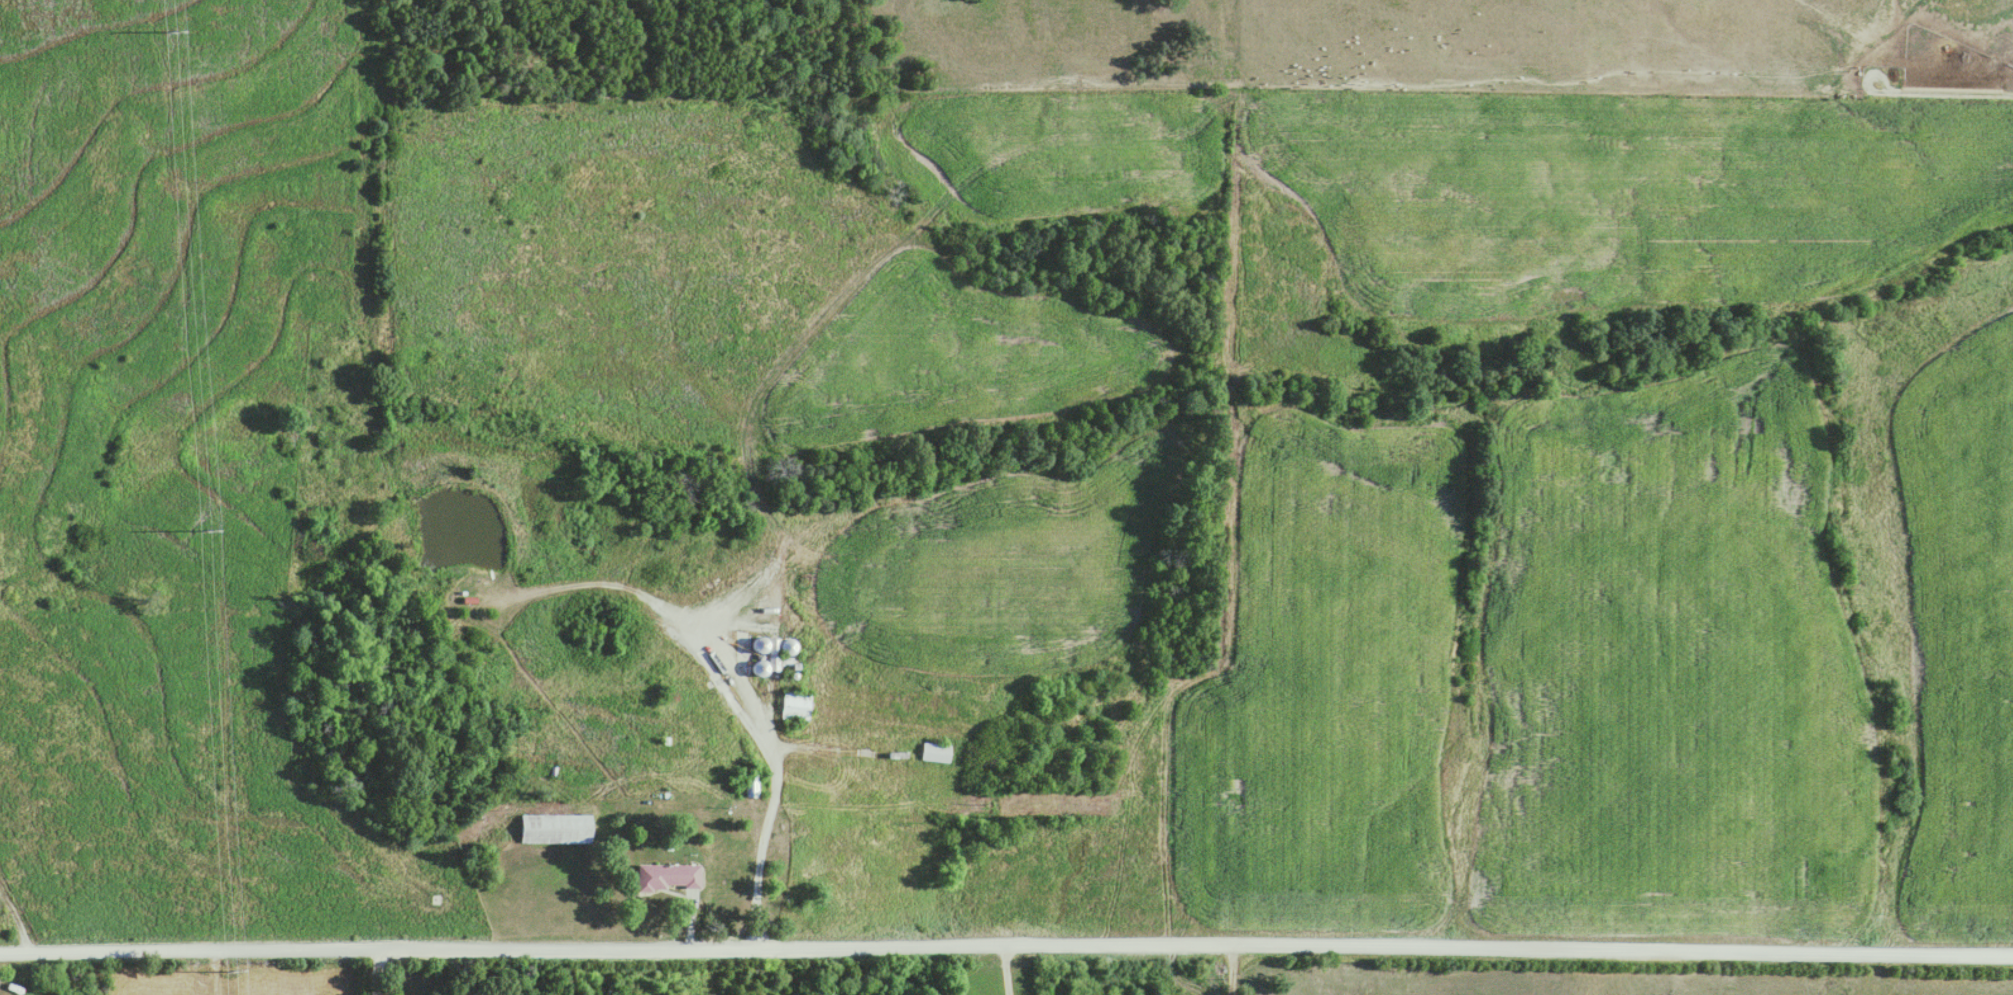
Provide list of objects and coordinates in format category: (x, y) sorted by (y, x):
building: (793, 706)
building: (935, 753)
road: (775, 795)
building: (552, 829)
building: (663, 877)
road: (647, 896)
road: (15, 918)
road: (1006, 944)
road: (1234, 968)
road: (375, 970)
road: (1005, 970)

